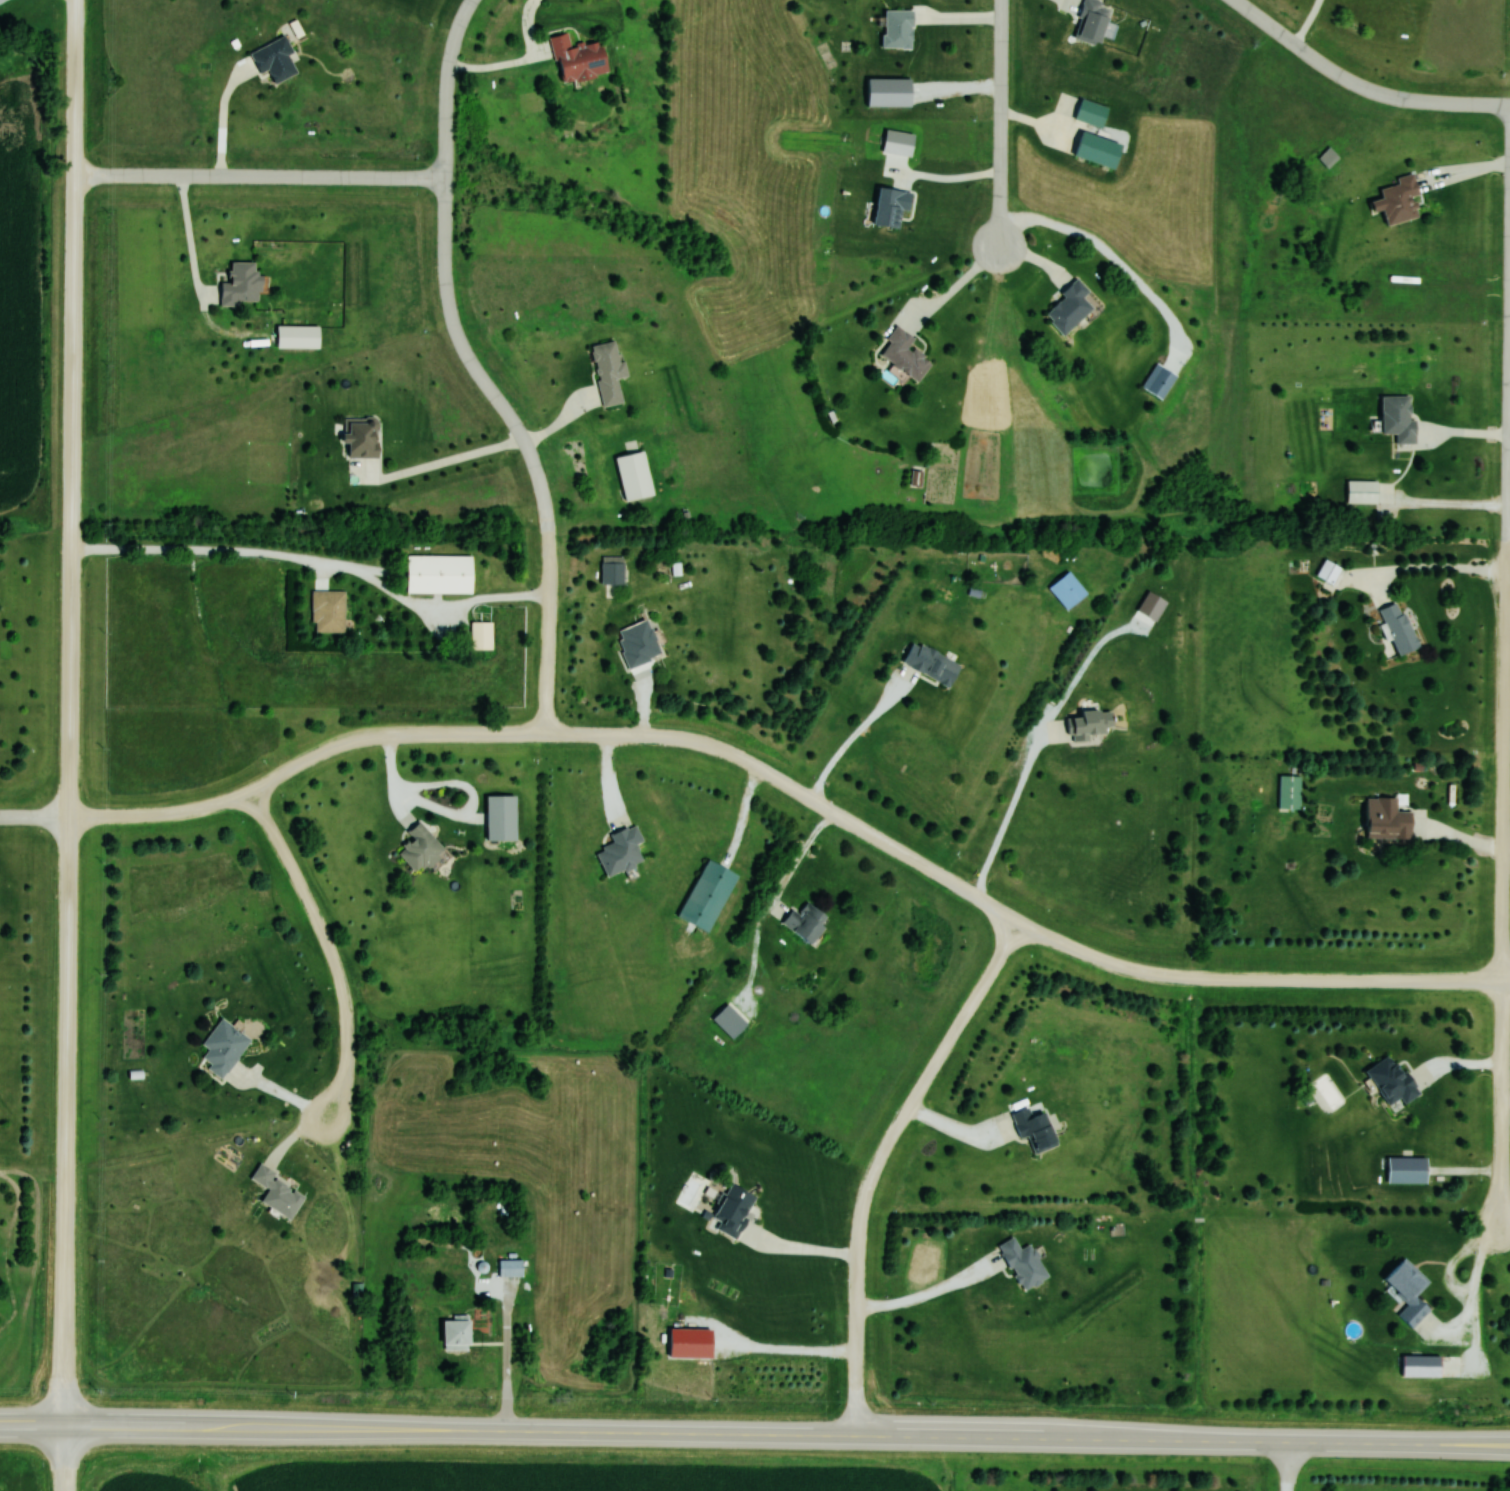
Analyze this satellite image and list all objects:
building: (1090, 21)
road: (1309, 22)
building: (898, 28)
road: (507, 56)
building: (577, 58)
building: (273, 60)
road: (1359, 86)
building: (1080, 109)
road: (207, 116)
road: (1000, 123)
road: (352, 177)
building: (1398, 200)
road: (175, 239)
building: (240, 284)
building: (1069, 306)
road: (457, 330)
building: (296, 337)
building: (903, 353)
building: (607, 371)
building: (1158, 380)
building: (1397, 417)
road: (1509, 430)
building: (360, 436)
road: (434, 453)
building: (633, 474)
building: (1361, 491)
road: (314, 555)
building: (612, 570)
building: (1327, 571)
building: (438, 573)
building: (1067, 590)
road: (545, 597)
building: (328, 611)
building: (1399, 628)
building: (481, 635)
building: (637, 643)
road: (1508, 648)
building: (930, 663)
road: (70, 712)
building: (1090, 723)
road: (836, 729)
road: (1019, 742)
road: (1505, 761)
road: (798, 790)
building: (1289, 792)
road: (438, 805)
road: (727, 806)
road: (35, 817)
building: (500, 818)
building: (1387, 825)
building: (419, 848)
building: (620, 851)
road: (757, 892)
building: (706, 896)
building: (804, 922)
road: (332, 948)
building: (223, 1048)
building: (1391, 1082)
road: (272, 1088)
road: (1501, 1106)
road: (954, 1129)
building: (1034, 1129)
road: (876, 1161)
building: (1405, 1170)
building: (277, 1193)
building: (732, 1209)
road: (1504, 1232)
road: (795, 1242)
building: (1023, 1263)
building: (510, 1268)
road: (917, 1286)
building: (1408, 1291)
building: (454, 1335)
building: (689, 1342)
road: (781, 1342)
road: (755, 1434)
road: (64, 1458)
road: (1282, 1466)

